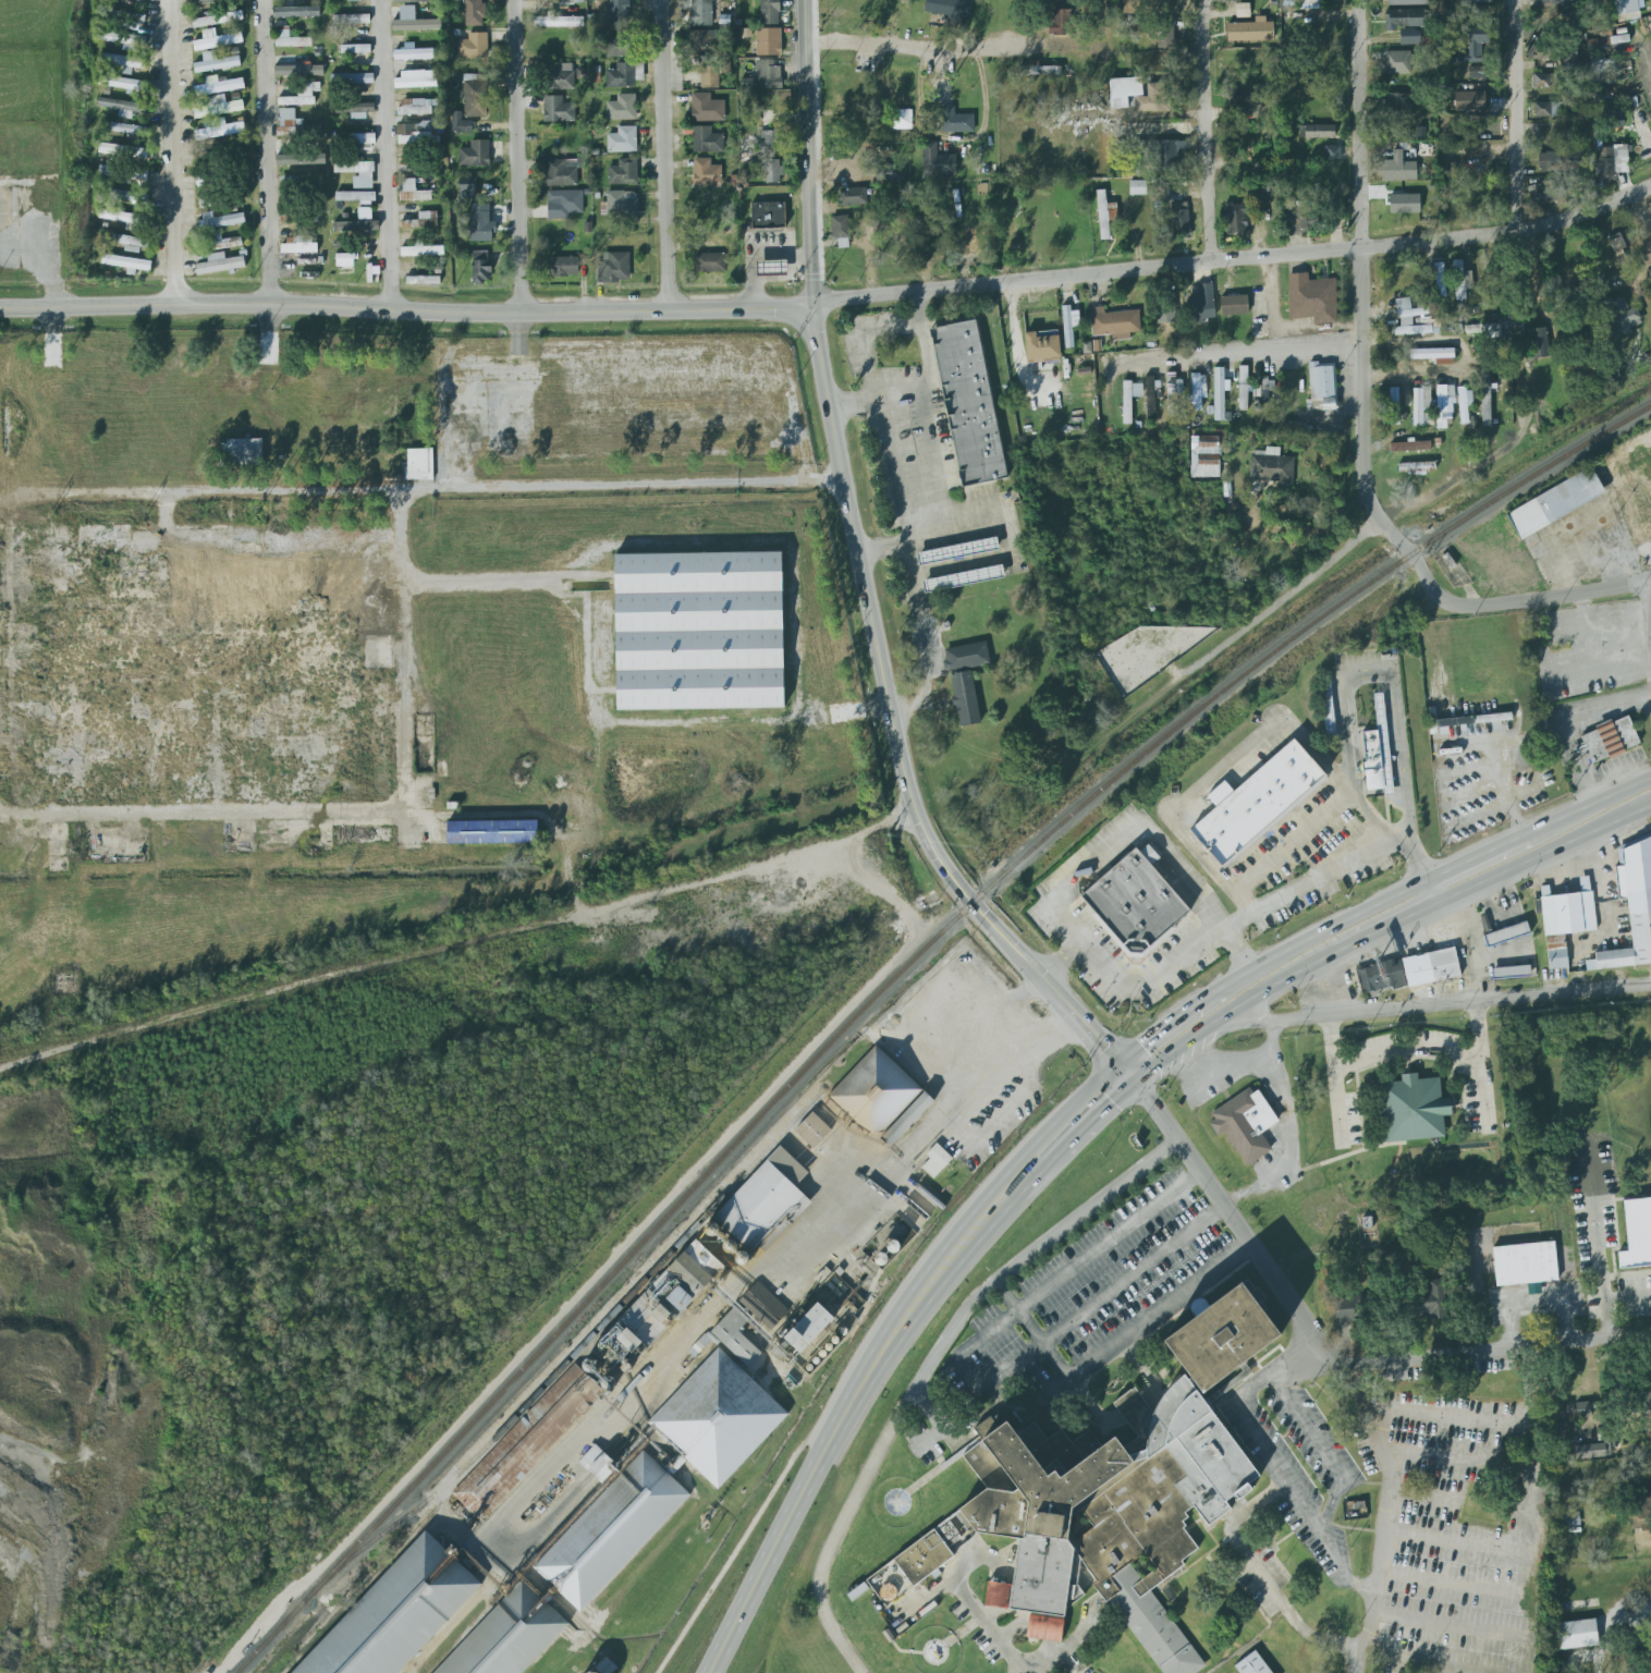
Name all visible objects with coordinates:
building: (143, 0)
building: (354, 0)
building: (1475, 0)
building: (408, 1)
building: (571, 1)
building: (205, 2)
building: (1407, 2)
building: (1553, 2)
building: (1308, 4)
building: (617, 9)
building: (1628, 9)
building: (950, 10)
building: (1242, 10)
building: (698, 11)
building: (295, 12)
building: (474, 12)
building: (769, 12)
building: (217, 19)
building: (1403, 19)
building: (351, 20)
building: (131, 21)
building: (413, 21)
building: (559, 21)
building: (1060, 23)
building: (1250, 30)
building: (1166, 34)
building: (1409, 37)
building: (291, 39)
building: (1609, 39)
building: (768, 41)
building: (218, 42)
building: (705, 44)
road: (904, 44)
building: (621, 45)
building: (1473, 46)
building: (473, 47)
building: (355, 49)
building: (412, 52)
building: (122, 62)
building: (216, 62)
building: (1396, 62)
building: (1570, 62)
road: (1649, 63)
building: (725, 65)
building: (1602, 65)
building: (298, 70)
building: (1042, 71)
building: (1478, 72)
building: (582, 73)
building: (624, 75)
building: (768, 75)
building: (561, 76)
building: (709, 77)
building: (352, 78)
building: (415, 80)
building: (1543, 81)
building: (748, 83)
building: (127, 84)
building: (218, 86)
building: (302, 95)
building: (1139, 95)
building: (475, 96)
building: (1238, 97)
building: (1398, 101)
building: (1469, 101)
building: (216, 106)
building: (123, 107)
building: (416, 107)
building: (622, 108)
building: (355, 109)
building: (706, 109)
building: (1545, 109)
building: (558, 110)
road: (1515, 118)
building: (901, 119)
building: (956, 121)
building: (289, 123)
building: (461, 123)
building: (430, 125)
building: (126, 129)
building: (1480, 129)
building: (219, 131)
building: (1317, 131)
road: (1202, 132)
building: (414, 135)
building: (353, 137)
building: (622, 139)
building: (706, 141)
building: (769, 141)
road: (953, 142)
building: (123, 150)
road: (174, 152)
road: (269, 152)
road: (807, 152)
building: (1332, 152)
road: (388, 155)
building: (475, 155)
road: (660, 155)
road: (514, 157)
building: (299, 159)
building: (1557, 159)
building: (1612, 160)
building: (937, 161)
building: (1397, 169)
building: (772, 171)
building: (561, 172)
building: (623, 172)
building: (706, 172)
building: (357, 173)
building: (886, 173)
building: (207, 179)
building: (467, 187)
building: (1137, 187)
building: (412, 191)
building: (1545, 192)
building: (130, 196)
building: (355, 196)
building: (853, 196)
building: (564, 204)
building: (621, 204)
building: (1404, 204)
building: (767, 215)
building: (1104, 215)
building: (1301, 217)
building: (123, 218)
building: (1237, 218)
building: (1181, 219)
building: (219, 220)
building: (421, 220)
building: (480, 223)
building: (356, 225)
building: (841, 231)
building: (223, 241)
building: (131, 243)
building: (298, 244)
building: (1617, 246)
building: (421, 251)
road: (756, 251)
building: (344, 260)
building: (125, 262)
building: (710, 262)
road: (1235, 262)
building: (219, 264)
building: (480, 267)
building: (564, 267)
gas station: (770, 267)
building: (613, 268)
building: (771, 268)
road: (779, 279)
building: (423, 280)
building: (1460, 280)
road: (1358, 285)
road: (1270, 292)
building: (1311, 298)
building: (1201, 304)
building: (1234, 305)
road: (406, 310)
building: (1404, 317)
building: (1622, 317)
building: (1114, 323)
building: (1069, 325)
road: (1016, 338)
building: (1538, 343)
building: (1042, 346)
road: (1243, 351)
park: (897, 352)
building: (1433, 355)
road: (1439, 371)
road: (924, 383)
building: (1321, 386)
building: (1243, 388)
building: (1137, 390)
building: (1197, 391)
building: (1267, 391)
building: (1173, 393)
building: (1219, 394)
building: (1150, 398)
building: (1484, 400)
building: (1126, 402)
building: (969, 403)
building: (1464, 403)
building: (1420, 404)
building: (1443, 404)
building: (1394, 406)
building: (1409, 447)
building: (244, 451)
building: (1204, 456)
building: (419, 464)
building: (1271, 466)
building: (1416, 467)
road: (445, 487)
building: (1554, 502)
road: (943, 504)
road: (497, 581)
road: (1650, 593)
road: (1282, 599)
road: (1517, 600)
building: (698, 631)
road: (920, 631)
road: (403, 644)
building: (966, 657)
road: (880, 667)
road: (1390, 688)
building: (965, 699)
road: (1615, 700)
building: (1328, 712)
building: (1448, 724)
building: (1606, 740)
building: (1378, 752)
road: (1568, 757)
road: (1213, 776)
building: (1251, 804)
road: (1375, 823)
building: (496, 832)
road: (1293, 841)
road: (1541, 855)
road: (1415, 867)
road: (1447, 872)
road: (1427, 895)
building: (1133, 903)
building: (1631, 905)
building: (1564, 920)
road: (1383, 929)
building: (1506, 933)
road: (1085, 948)
road: (1059, 962)
building: (1415, 965)
building: (1511, 972)
railway: (891, 979)
road: (1441, 1009)
road: (1228, 1014)
road: (1178, 1017)
road: (1085, 1033)
road: (1408, 1050)
road: (974, 1074)
traffic signals: (1126, 1078)
building: (872, 1092)
building: (1412, 1108)
building: (903, 1120)
building: (1245, 1123)
road: (1073, 1126)
building: (816, 1131)
road: (1288, 1134)
building: (938, 1162)
building: (763, 1199)
road: (1226, 1212)
building: (1636, 1233)
building: (888, 1235)
road: (1244, 1245)
building: (877, 1256)
building: (1524, 1262)
road: (1601, 1277)
road: (717, 1292)
building: (669, 1298)
road: (1536, 1298)
parking lot: (1093, 1300)
building: (1429, 1300)
building: (1347, 1308)
road: (1153, 1314)
building: (795, 1319)
road: (1605, 1319)
road: (1034, 1331)
road: (1484, 1347)
road: (1275, 1370)
road: (928, 1371)
road: (968, 1375)
road: (1356, 1388)
building: (1593, 1406)
road: (844, 1412)
building: (716, 1419)
road: (1447, 1420)
building: (525, 1443)
building: (1602, 1449)
road: (1458, 1461)
building: (1112, 1492)
road: (1385, 1498)
road: (1456, 1500)
helipad: (895, 1502)
road: (1324, 1513)
building: (1644, 1524)
building: (608, 1531)
parking lot: (1446, 1532)
road: (1457, 1542)
road: (1257, 1572)
road: (1453, 1583)
road: (1361, 1587)
building: (393, 1614)
road: (978, 1615)
road: (1451, 1624)
road: (1606, 1624)
building: (1577, 1634)
building: (505, 1637)
helipad: (933, 1651)
road: (1049, 1659)
road: (1354, 1661)
road: (1420, 1663)
building: (1252, 1664)
building: (606, 1666)
parking lot: (1083, 1666)

